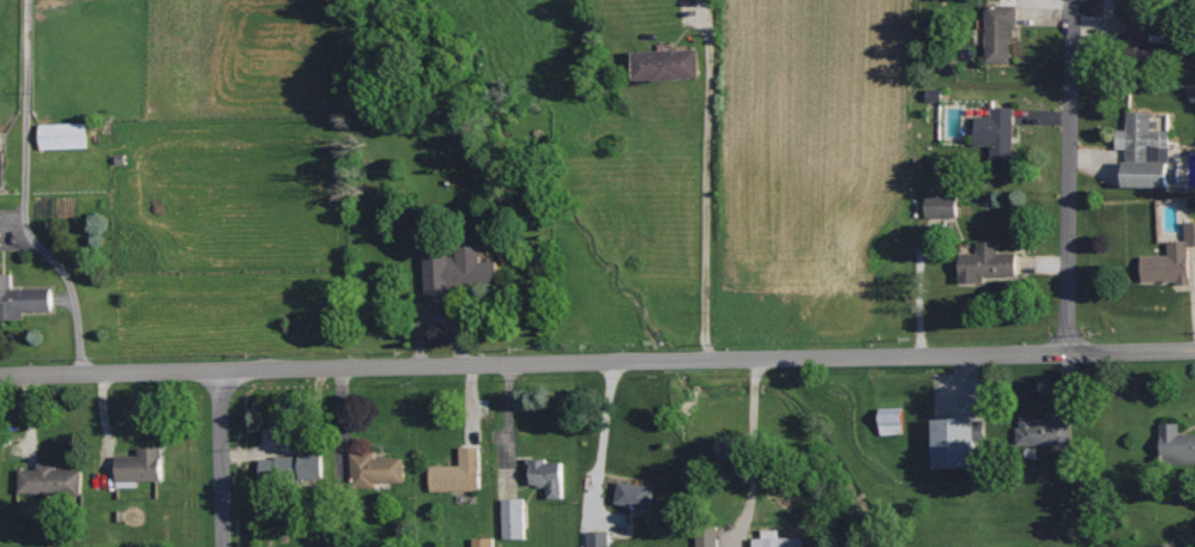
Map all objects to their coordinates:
building: (1190, 1)
building: (1001, 34)
building: (1140, 37)
building: (666, 65)
building: (998, 133)
building: (64, 135)
building: (1147, 153)
building: (1, 165)
road: (1069, 175)
road: (706, 187)
road: (24, 195)
building: (941, 206)
building: (1171, 261)
building: (989, 263)
building: (461, 272)
building: (22, 299)
road: (597, 360)
building: (892, 421)
building: (1045, 433)
building: (955, 443)
building: (1177, 445)
road: (222, 458)
building: (300, 467)
building: (139, 468)
building: (375, 470)
building: (458, 474)
building: (548, 476)
building: (50, 480)
building: (635, 496)
building: (513, 518)
building: (707, 539)
building: (483, 542)

